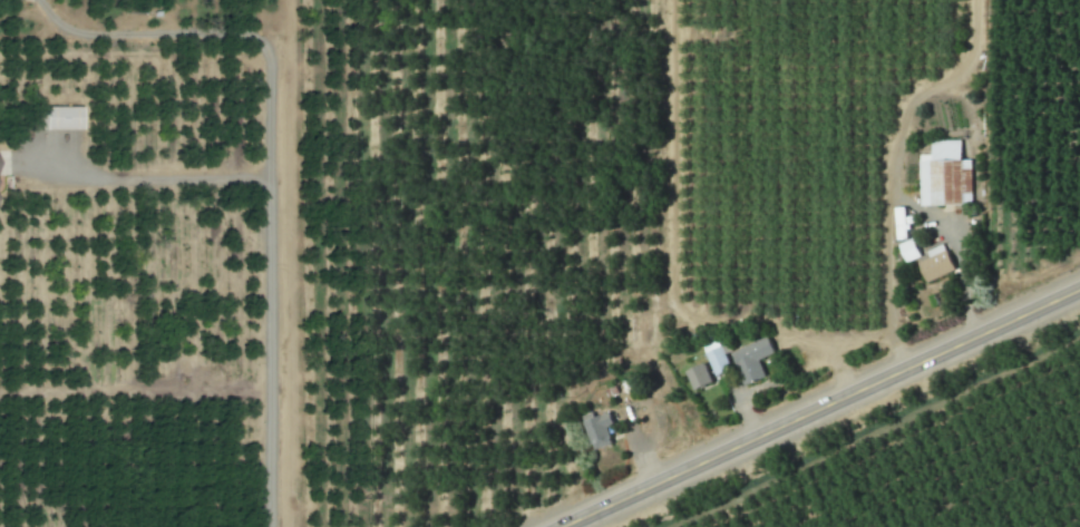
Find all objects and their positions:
building: (59, 117)
road: (271, 163)
building: (942, 174)
road: (136, 182)
road: (894, 199)
building: (935, 263)
building: (714, 357)
building: (750, 360)
building: (697, 375)
road: (818, 407)
building: (597, 430)

